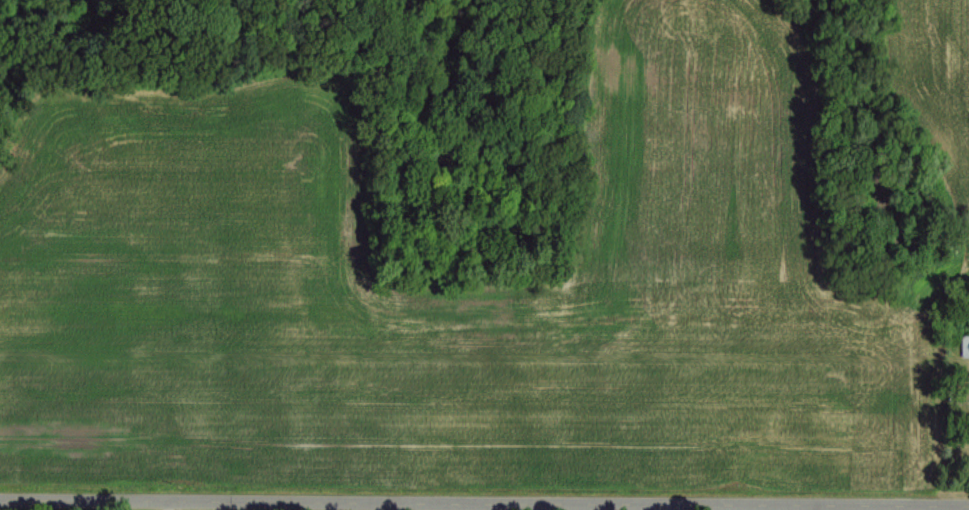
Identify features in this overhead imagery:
building: (966, 348)
road: (484, 504)
road: (166, 506)
road: (220, 506)
park: (935, 509)
parking lot: (949, 509)
road: (960, 509)

